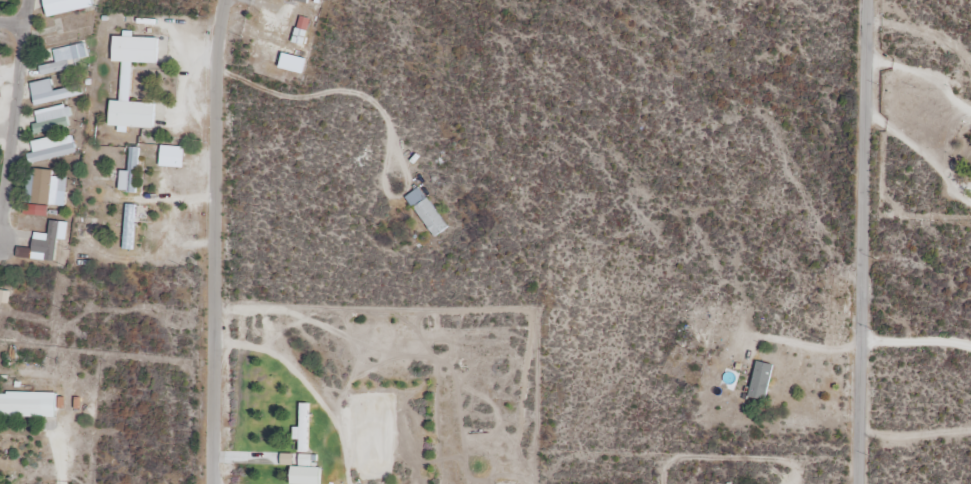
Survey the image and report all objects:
building: (66, 6)
road: (13, 22)
building: (67, 36)
building: (65, 59)
building: (126, 82)
building: (59, 94)
road: (14, 118)
building: (52, 118)
building: (52, 147)
building: (172, 156)
building: (130, 173)
building: (44, 187)
building: (427, 212)
building: (49, 241)
road: (215, 241)
road: (862, 242)
building: (759, 381)
building: (28, 405)
building: (303, 428)

